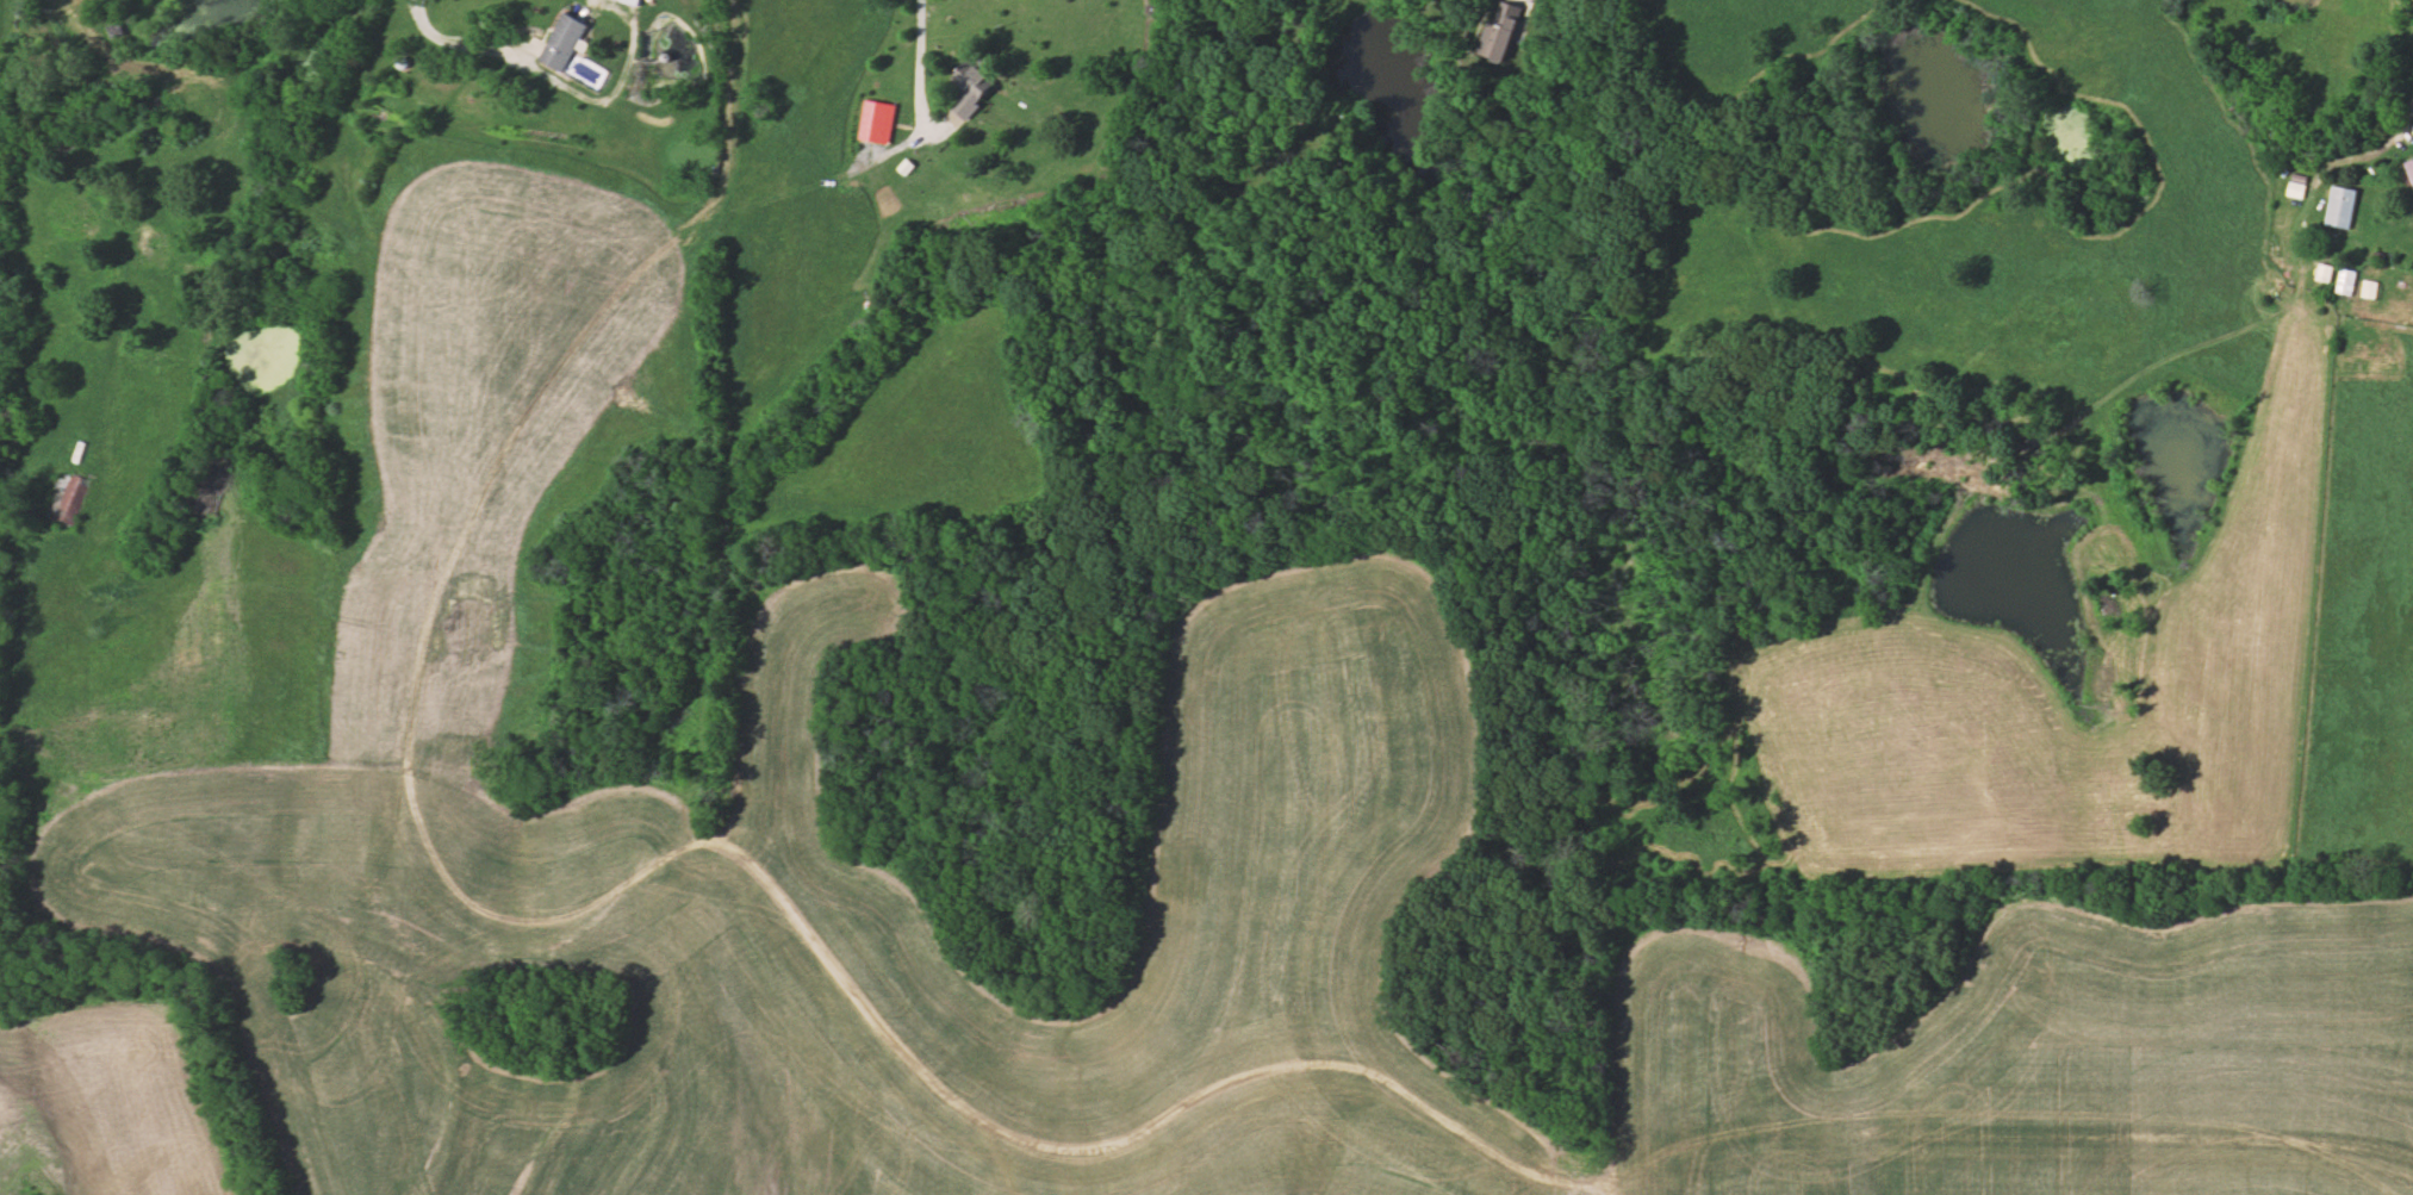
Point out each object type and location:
building: (634, 2)
road: (1528, 2)
road: (701, 7)
building: (1503, 31)
building: (565, 43)
road: (458, 48)
road: (922, 76)
building: (974, 91)
building: (878, 123)
road: (2406, 123)
building: (2409, 169)
building: (2296, 189)
building: (2342, 208)
building: (2346, 284)
road: (119, 315)
building: (63, 498)
road: (695, 841)

